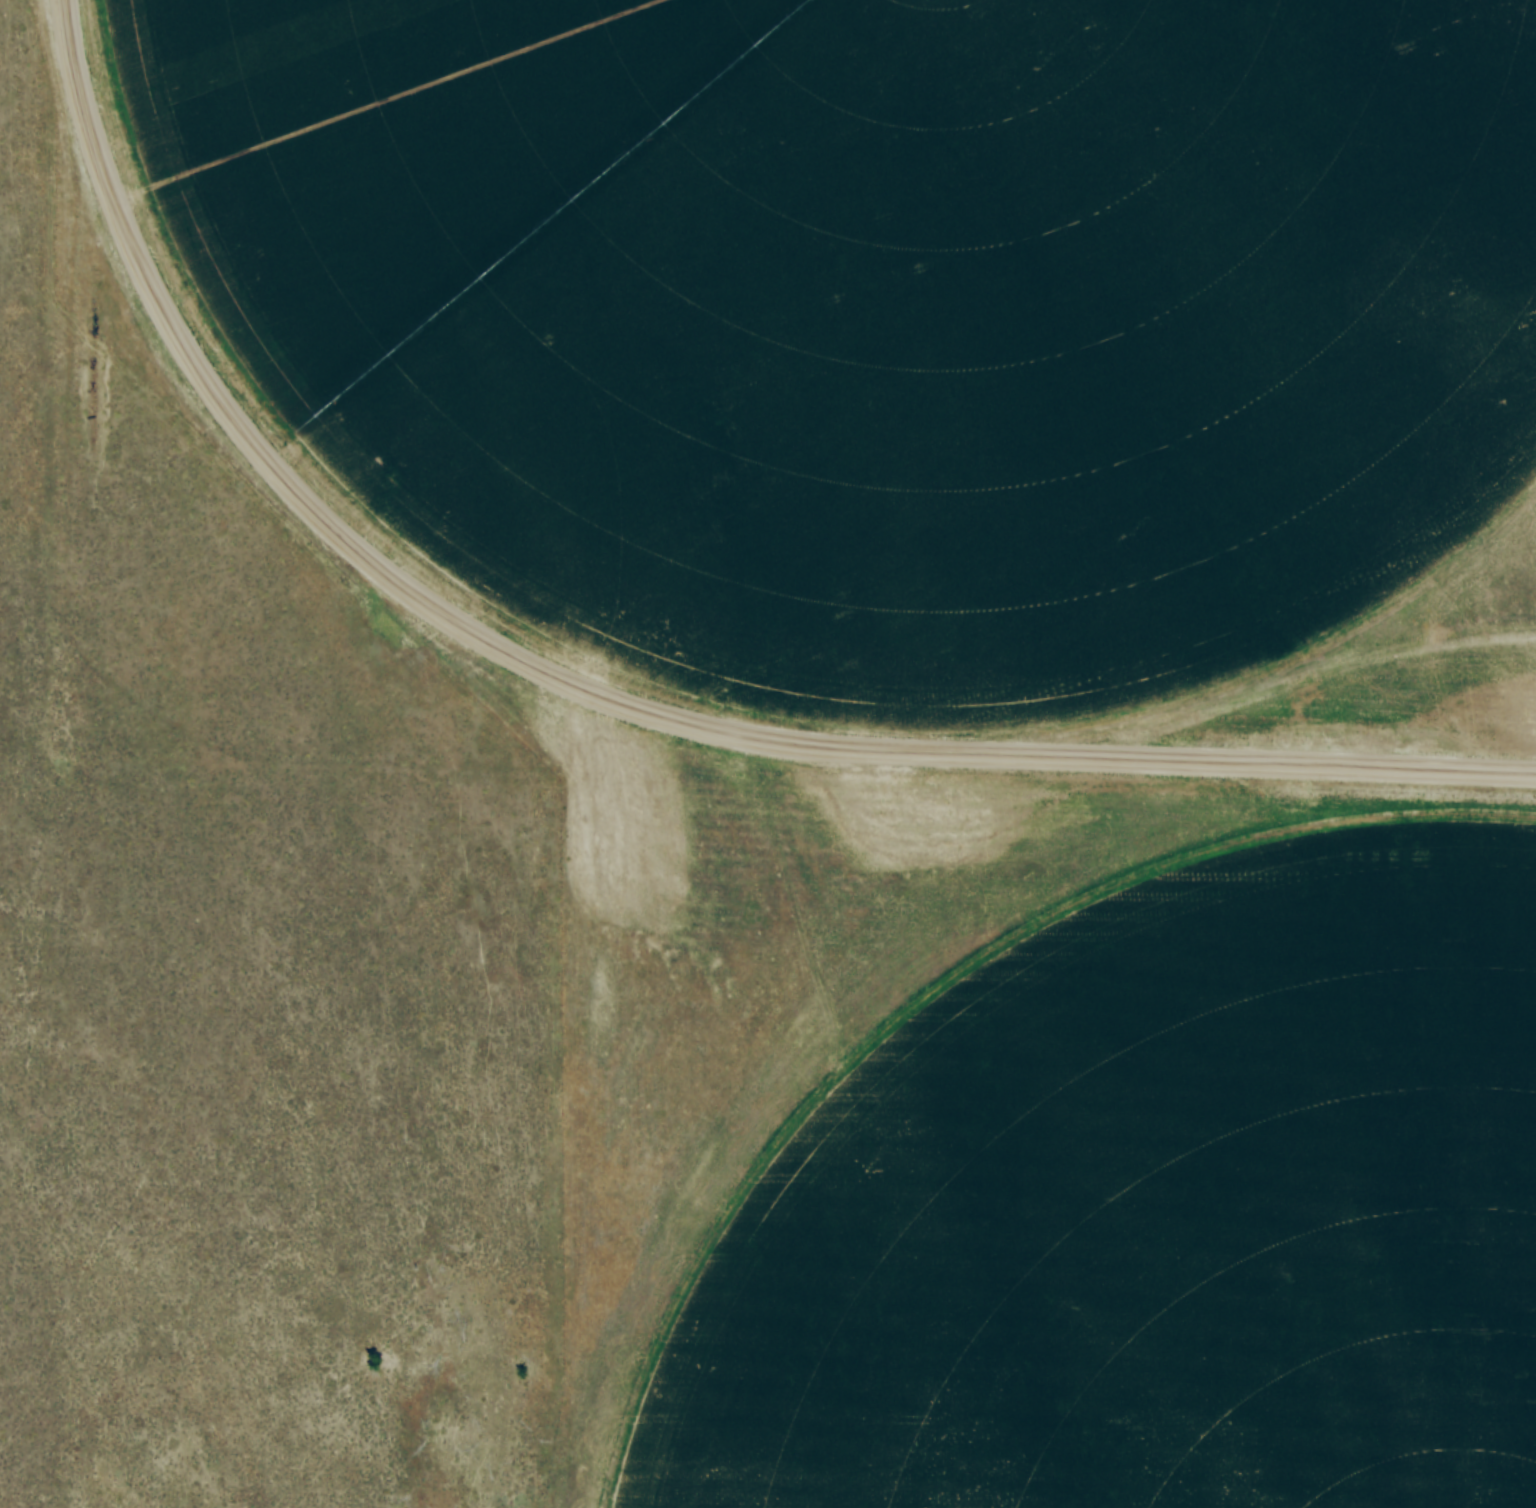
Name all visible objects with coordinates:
crop: (865, 328)
crop: (1153, 1153)

